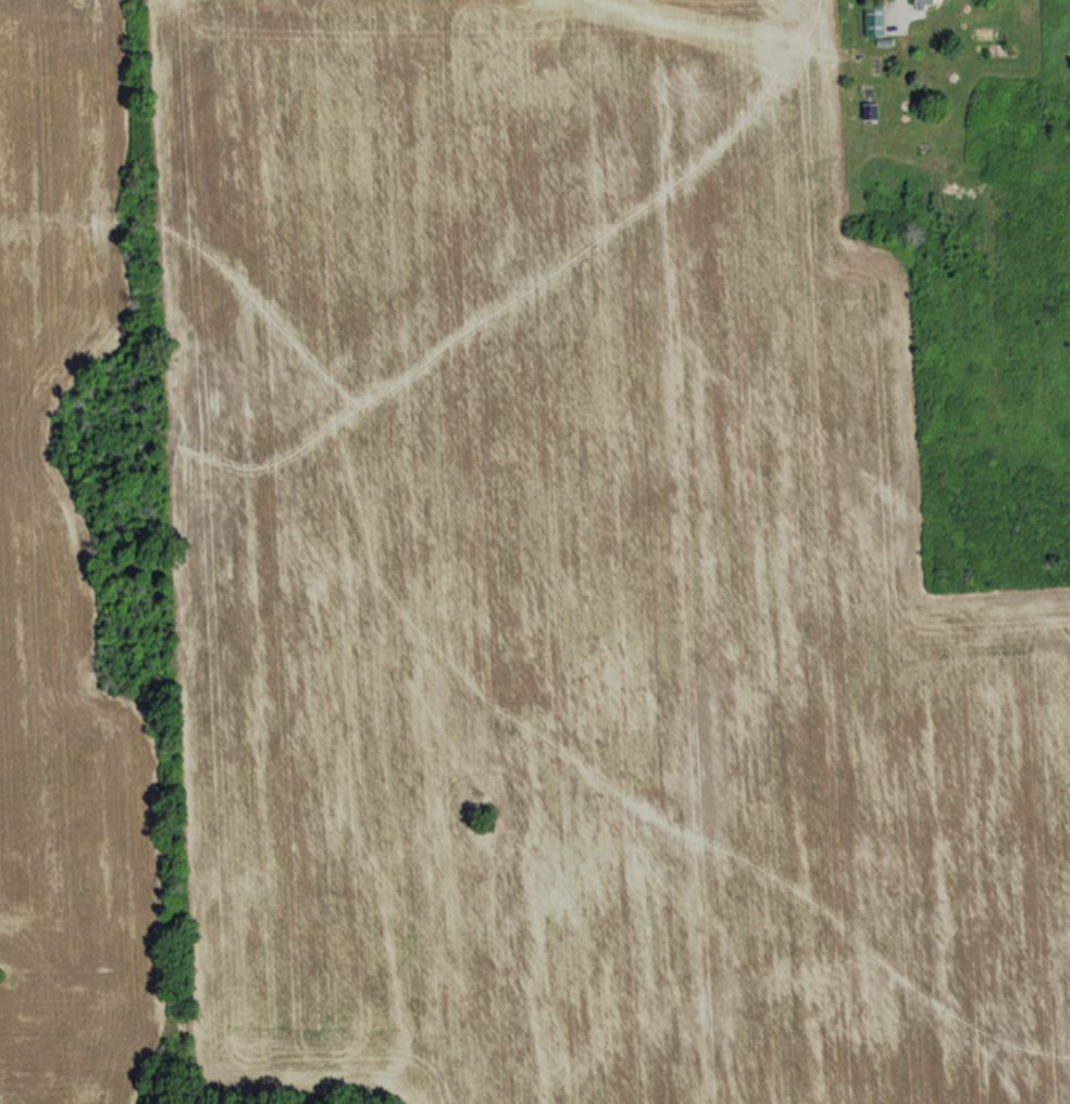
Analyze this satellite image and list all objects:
building: (872, 21)
building: (867, 112)

